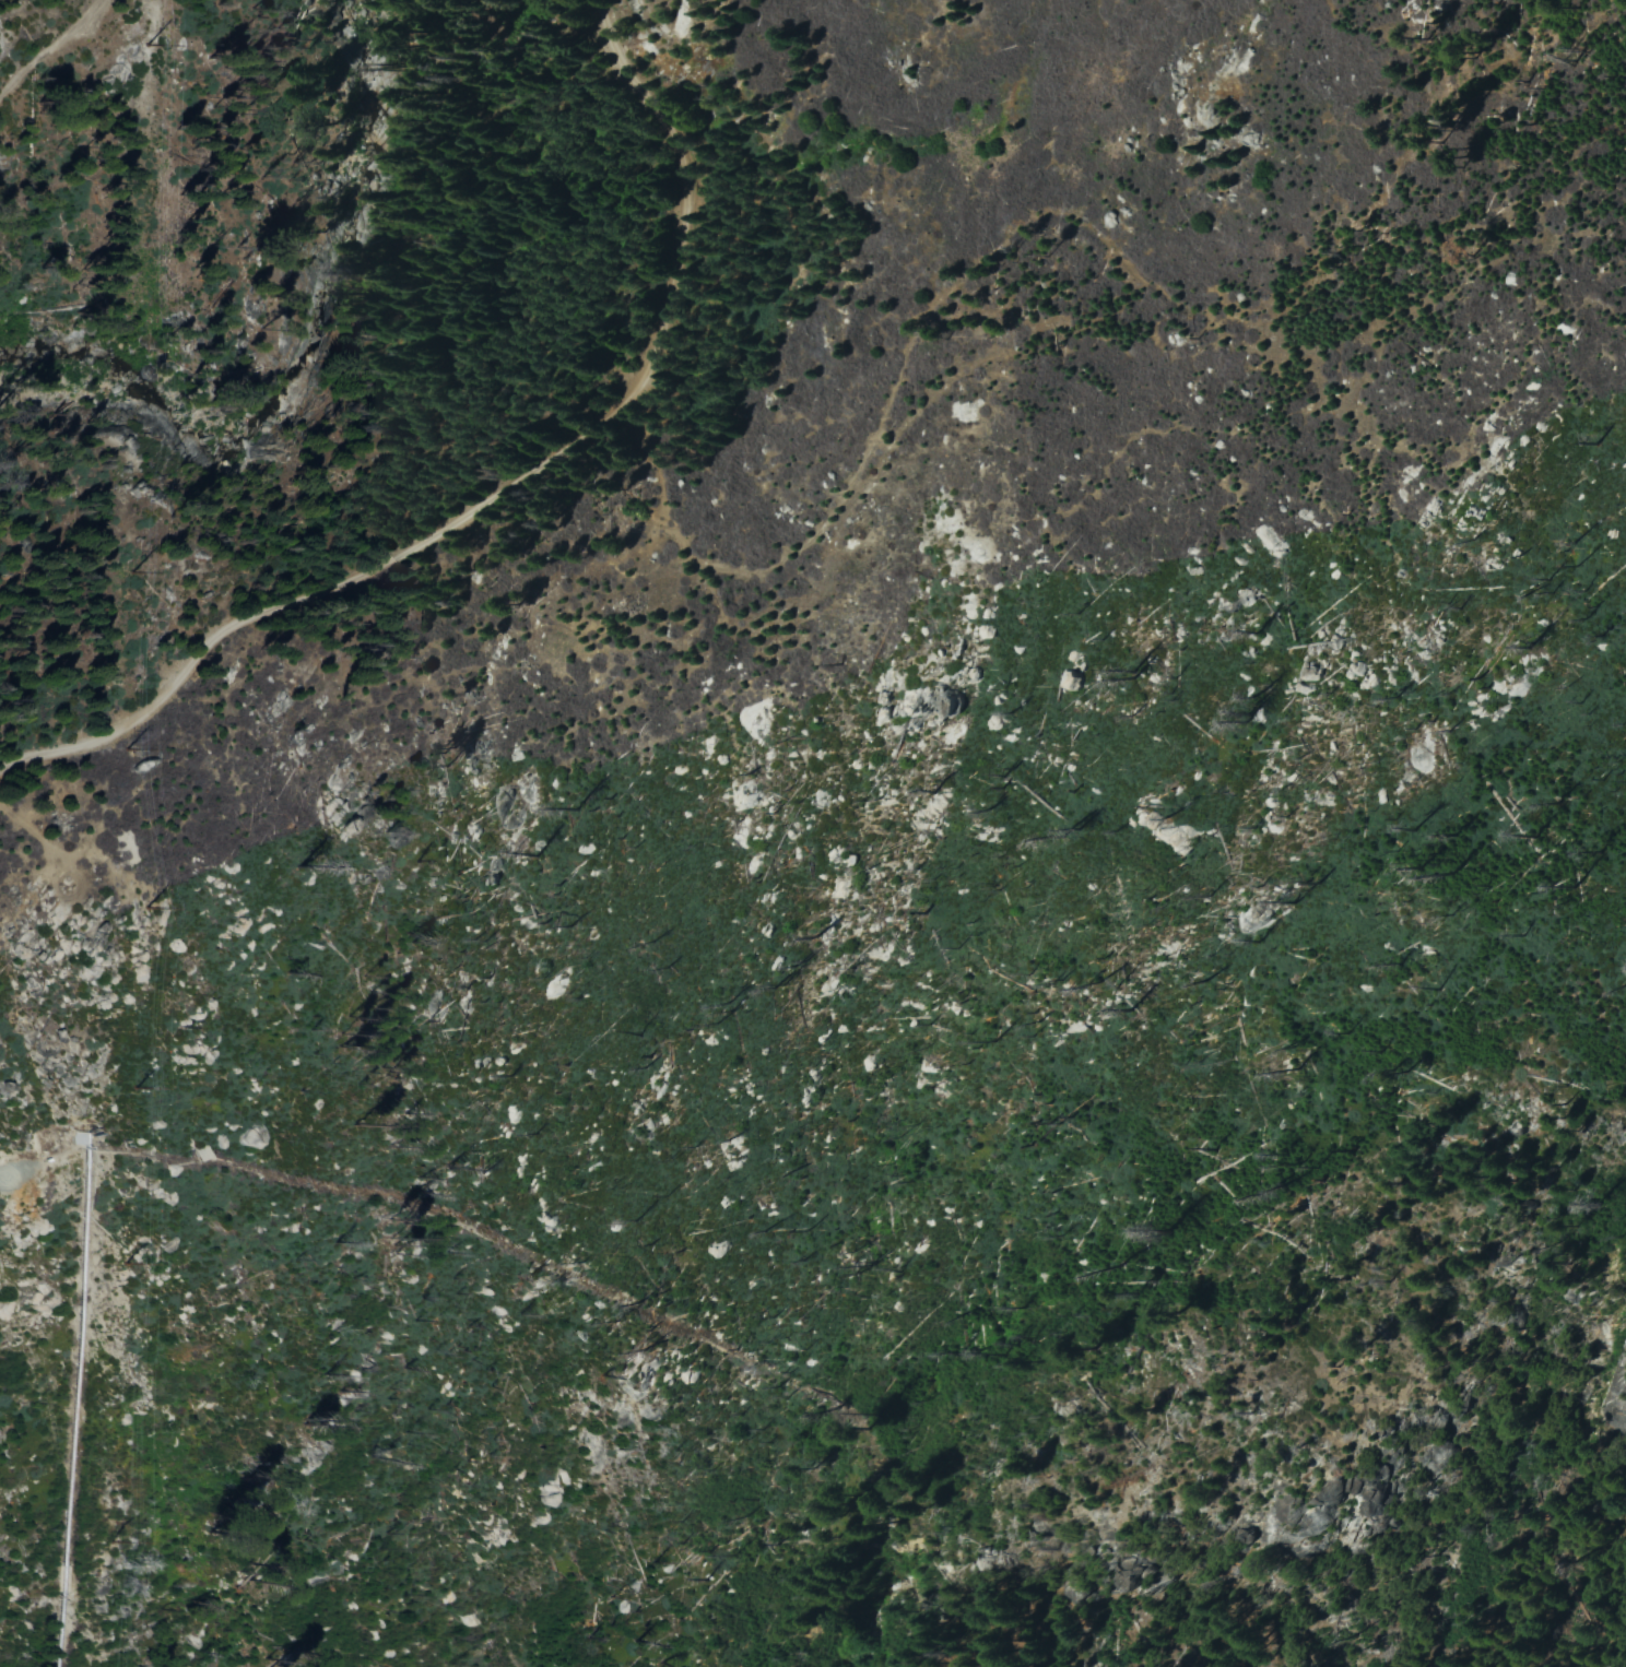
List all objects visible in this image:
road: (51, 45)
power tower: (143, 45)
river: (292, 327)
road: (497, 488)
power tower: (114, 572)
power tower: (114, 748)
power tower: (144, 905)
power tower: (129, 1088)
road: (2, 1177)
power tower: (116, 1258)
power tower: (101, 1546)

